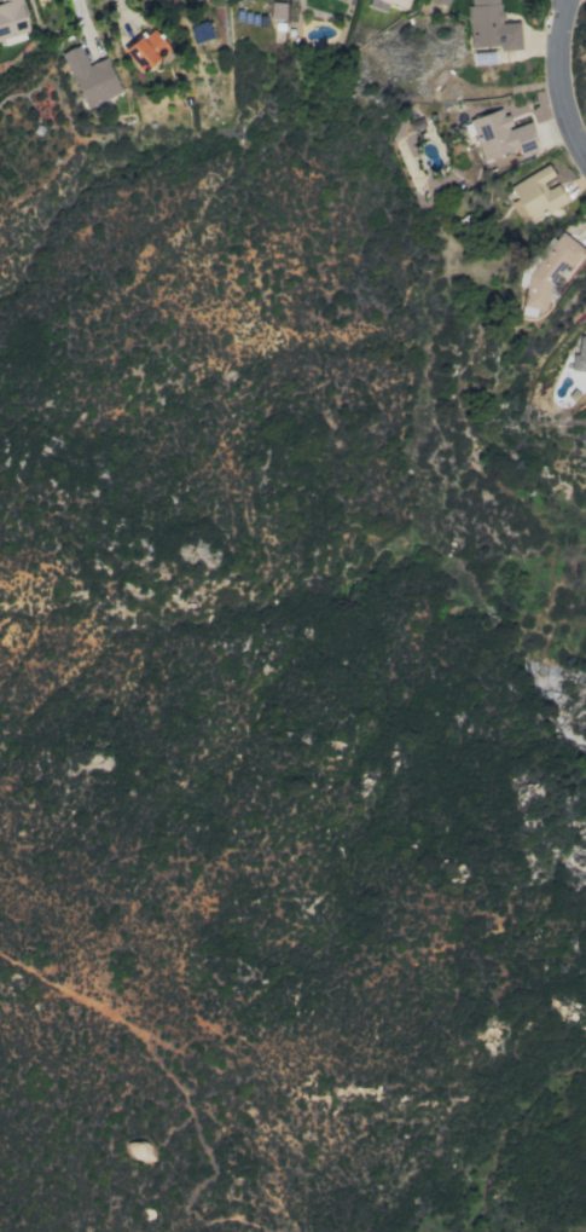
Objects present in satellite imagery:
building: (441, 1)
building: (381, 4)
building: (277, 10)
road: (121, 13)
building: (11, 18)
road: (83, 22)
building: (491, 25)
building: (149, 46)
building: (89, 76)
road: (557, 80)
building: (498, 131)
building: (536, 192)
building: (547, 268)
building: (579, 354)

